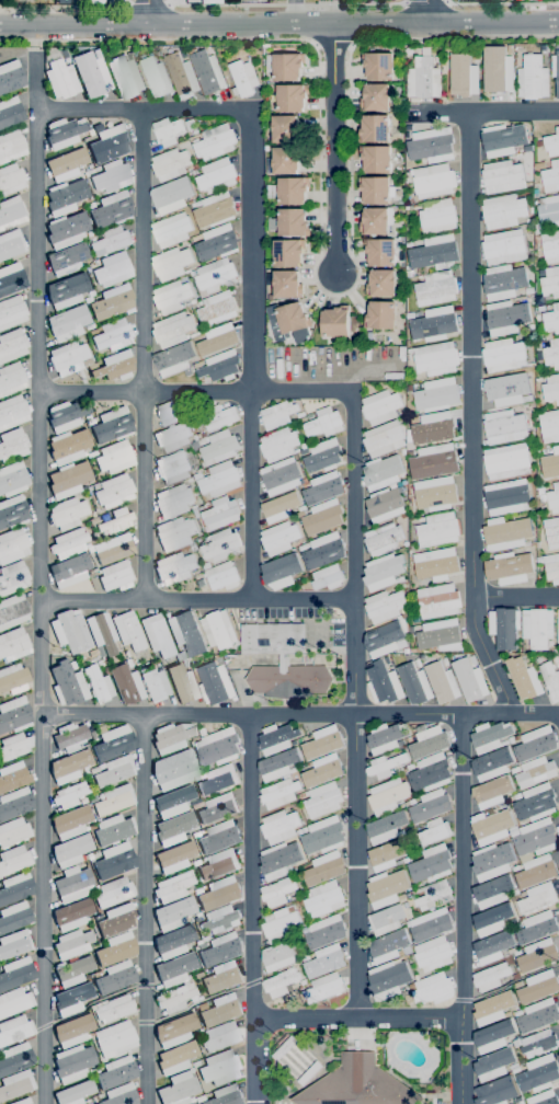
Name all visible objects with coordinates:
building: (62, 1)
road: (502, 2)
road: (149, 3)
road: (226, 3)
road: (346, 4)
road: (65, 7)
road: (426, 11)
road: (148, 12)
road: (295, 12)
road: (279, 24)
road: (35, 37)
building: (66, 59)
building: (287, 66)
building: (379, 66)
building: (498, 69)
building: (556, 70)
building: (207, 71)
building: (91, 74)
building: (182, 76)
building: (464, 76)
building: (10, 77)
building: (125, 77)
building: (157, 77)
building: (243, 77)
building: (533, 78)
road: (35, 79)
building: (61, 79)
building: (423, 79)
building: (292, 97)
building: (376, 97)
road: (144, 107)
road: (491, 110)
building: (10, 113)
building: (285, 128)
building: (375, 128)
building: (168, 130)
building: (65, 133)
building: (504, 140)
building: (216, 141)
building: (110, 143)
building: (539, 143)
building: (552, 143)
building: (431, 145)
building: (11, 146)
road: (334, 148)
building: (376, 159)
building: (286, 160)
building: (66, 164)
building: (171, 164)
building: (538, 165)
building: (217, 175)
building: (111, 176)
building: (502, 176)
building: (551, 177)
building: (11, 180)
building: (433, 181)
building: (293, 189)
building: (375, 189)
building: (172, 195)
building: (66, 197)
building: (216, 209)
building: (112, 210)
building: (503, 210)
building: (11, 212)
building: (547, 212)
building: (437, 216)
building: (375, 221)
building: (290, 222)
building: (67, 230)
building: (172, 230)
building: (110, 241)
building: (218, 242)
building: (11, 244)
building: (550, 245)
building: (503, 248)
building: (381, 251)
building: (286, 252)
building: (435, 253)
road: (319, 255)
building: (67, 258)
building: (172, 263)
building: (112, 269)
building: (216, 275)
building: (11, 279)
building: (503, 281)
building: (550, 281)
building: (286, 283)
building: (381, 283)
building: (436, 288)
building: (68, 290)
building: (528, 290)
building: (171, 296)
building: (539, 301)
building: (113, 302)
building: (218, 308)
building: (12, 312)
building: (381, 314)
building: (506, 317)
building: (293, 318)
building: (551, 319)
building: (335, 322)
building: (68, 323)
building: (433, 323)
building: (172, 330)
building: (113, 335)
building: (218, 338)
building: (12, 345)
building: (537, 346)
road: (142, 354)
road: (253, 354)
building: (552, 354)
building: (503, 355)
building: (69, 358)
building: (435, 358)
building: (175, 359)
building: (532, 364)
building: (115, 366)
building: (221, 366)
building: (11, 379)
building: (538, 379)
building: (551, 388)
building: (507, 389)
road: (195, 392)
building: (437, 394)
building: (380, 406)
building: (12, 412)
building: (169, 412)
building: (277, 414)
road: (470, 415)
building: (66, 416)
building: (219, 416)
building: (91, 422)
building: (324, 423)
building: (549, 425)
building: (113, 426)
building: (505, 426)
building: (433, 427)
building: (196, 436)
building: (173, 437)
building: (384, 438)
building: (12, 444)
building: (278, 445)
building: (304, 446)
building: (69, 447)
building: (219, 447)
building: (403, 451)
building: (411, 452)
building: (92, 455)
building: (322, 455)
building: (115, 458)
building: (434, 461)
building: (506, 461)
building: (550, 464)
building: (172, 468)
building: (383, 472)
building: (281, 476)
building: (12, 479)
building: (219, 479)
building: (69, 480)
building: (303, 480)
building: (306, 484)
building: (323, 487)
building: (114, 491)
building: (540, 491)
building: (435, 492)
building: (507, 496)
building: (554, 498)
building: (173, 501)
building: (281, 504)
building: (385, 504)
building: (301, 510)
building: (13, 513)
building: (220, 513)
building: (68, 514)
building: (323, 517)
building: (421, 519)
building: (94, 521)
building: (117, 521)
building: (438, 529)
building: (506, 532)
building: (551, 532)
building: (175, 533)
building: (278, 537)
building: (383, 539)
building: (69, 543)
building: (12, 545)
building: (221, 545)
building: (193, 547)
building: (303, 547)
building: (525, 548)
building: (113, 549)
building: (324, 551)
building: (539, 559)
building: (436, 564)
building: (205, 565)
building: (174, 567)
building: (509, 567)
building: (552, 567)
building: (70, 571)
building: (281, 571)
building: (384, 571)
building: (195, 572)
building: (116, 576)
building: (223, 576)
building: (328, 577)
building: (13, 578)
building: (201, 583)
building: (407, 591)
road: (515, 596)
road: (196, 600)
building: (438, 600)
building: (384, 606)
road: (41, 607)
building: (13, 611)
building: (558, 625)
building: (504, 626)
building: (538, 626)
building: (218, 629)
building: (71, 631)
building: (129, 631)
building: (102, 632)
building: (186, 633)
building: (158, 635)
building: (441, 635)
building: (384, 639)
building: (14, 645)
building: (179, 648)
building: (406, 651)
building: (100, 652)
building: (94, 653)
building: (216, 654)
building: (128, 655)
building: (182, 655)
building: (266, 656)
building: (472, 659)
building: (219, 660)
building: (556, 660)
building: (282, 662)
building: (418, 662)
building: (445, 662)
building: (73, 665)
building: (101, 665)
building: (524, 678)
building: (13, 679)
building: (470, 679)
building: (550, 680)
building: (215, 682)
building: (414, 682)
building: (442, 682)
building: (181, 683)
building: (384, 683)
building: (69, 685)
building: (99, 685)
building: (127, 685)
building: (156, 686)
road: (354, 704)
road: (300, 713)
building: (14, 715)
building: (489, 736)
building: (516, 736)
building: (70, 737)
building: (386, 737)
building: (171, 738)
building: (277, 739)
building: (511, 739)
building: (322, 741)
building: (429, 741)
building: (294, 743)
building: (114, 744)
building: (536, 744)
building: (217, 746)
building: (15, 747)
building: (309, 763)
building: (492, 763)
building: (278, 764)
building: (385, 766)
building: (70, 767)
building: (410, 767)
building: (515, 769)
building: (94, 770)
building: (174, 770)
building: (323, 770)
building: (399, 770)
building: (535, 771)
building: (87, 772)
building: (115, 772)
building: (431, 772)
building: (13, 777)
building: (217, 780)
building: (492, 791)
building: (279, 792)
building: (303, 794)
building: (71, 795)
building: (388, 795)
building: (94, 798)
building: (323, 800)
building: (115, 801)
building: (412, 801)
building: (174, 802)
building: (535, 802)
building: (15, 804)
building: (430, 805)
building: (218, 807)
building: (71, 823)
building: (281, 826)
building: (491, 826)
building: (92, 827)
building: (386, 827)
building: (174, 828)
building: (114, 829)
building: (434, 831)
building: (13, 832)
building: (514, 832)
building: (196, 835)
building: (323, 836)
building: (219, 837)
building: (536, 837)
building: (72, 851)
building: (387, 854)
building: (175, 858)
building: (279, 859)
building: (14, 860)
building: (407, 860)
building: (115, 861)
building: (492, 861)
building: (196, 863)
building: (432, 863)
building: (219, 864)
building: (324, 869)
building: (536, 871)
building: (75, 885)
building: (388, 886)
building: (174, 887)
building: (15, 888)
building: (198, 890)
building: (278, 890)
building: (492, 890)
building: (114, 892)
building: (515, 892)
building: (219, 893)
building: (433, 895)
building: (324, 898)
building: (537, 898)
road: (461, 908)
road: (146, 909)
road: (250, 909)
building: (73, 915)
building: (174, 915)
building: (387, 918)
building: (220, 919)
building: (15, 920)
building: (491, 920)
building: (281, 923)
building: (430, 924)
building: (118, 927)
building: (536, 927)
building: (324, 931)
building: (174, 942)
building: (14, 944)
building: (72, 944)
building: (388, 945)
building: (203, 946)
building: (493, 946)
building: (221, 948)
building: (408, 950)
building: (516, 952)
building: (116, 953)
building: (433, 953)
building: (281, 954)
building: (537, 955)
building: (305, 957)
building: (324, 961)
building: (176, 969)
building: (73, 971)
building: (16, 974)
building: (98, 974)
building: (199, 976)
building: (515, 976)
building: (88, 977)
building: (223, 977)
building: (389, 977)
building: (490, 977)
building: (116, 978)
building: (281, 981)
building: (304, 981)
road: (510, 982)
building: (517, 984)
building: (538, 987)
building: (323, 988)
building: (432, 989)
building: (175, 998)
building: (73, 999)
building: (14, 1002)
road: (93, 1002)
road: (197, 1002)
building: (493, 1008)
building: (114, 1009)
building: (221, 1010)
building: (517, 1013)
building: (538, 1015)
road: (358, 1017)
building: (15, 1030)
building: (75, 1031)
building: (175, 1031)
building: (493, 1035)
building: (221, 1036)
building: (116, 1038)
building: (515, 1043)
building: (538, 1043)
building: (283, 1048)
building: (176, 1055)
building: (15, 1059)
building: (494, 1060)
building: (73, 1063)
building: (196, 1065)
building: (223, 1067)
building: (515, 1069)
building: (95, 1071)
building: (117, 1073)
building: (310, 1073)
building: (538, 1073)
building: (357, 1084)
building: (16, 1085)
building: (180, 1089)
building: (495, 1091)
building: (76, 1093)
building: (121, 1095)
building: (226, 1095)
building: (543, 1097)
building: (201, 1099)
building: (516, 1100)
building: (23, 1102)
building: (521, 1102)

